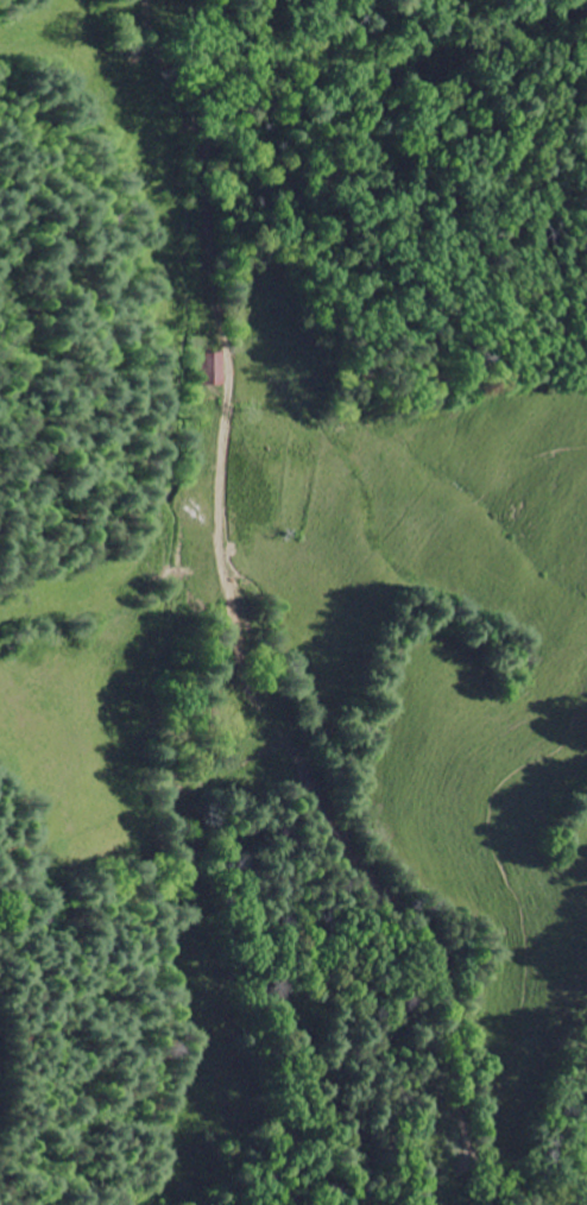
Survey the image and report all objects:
building: (210, 371)

